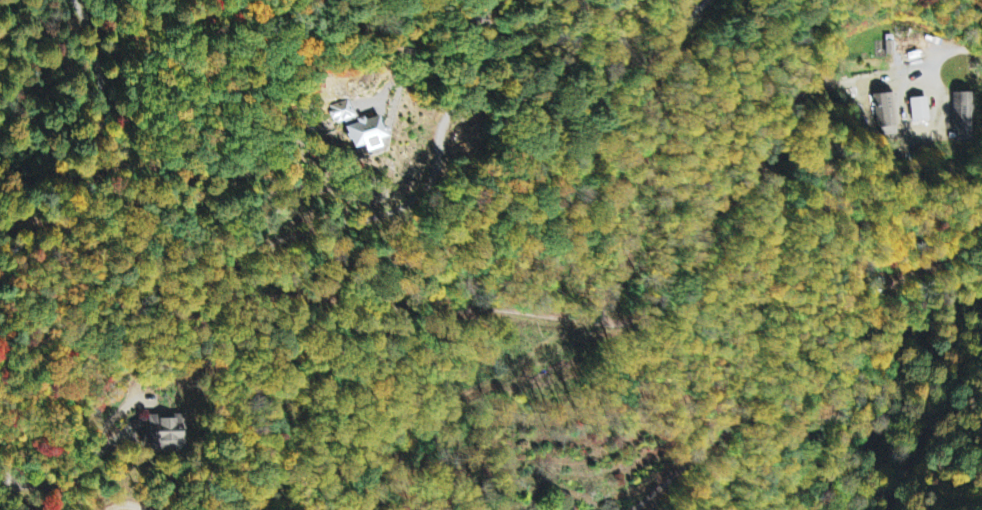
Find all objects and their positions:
building: (889, 45)
building: (918, 108)
building: (887, 110)
road: (95, 137)
road: (931, 423)
building: (165, 431)
road: (11, 494)
road: (127, 504)

